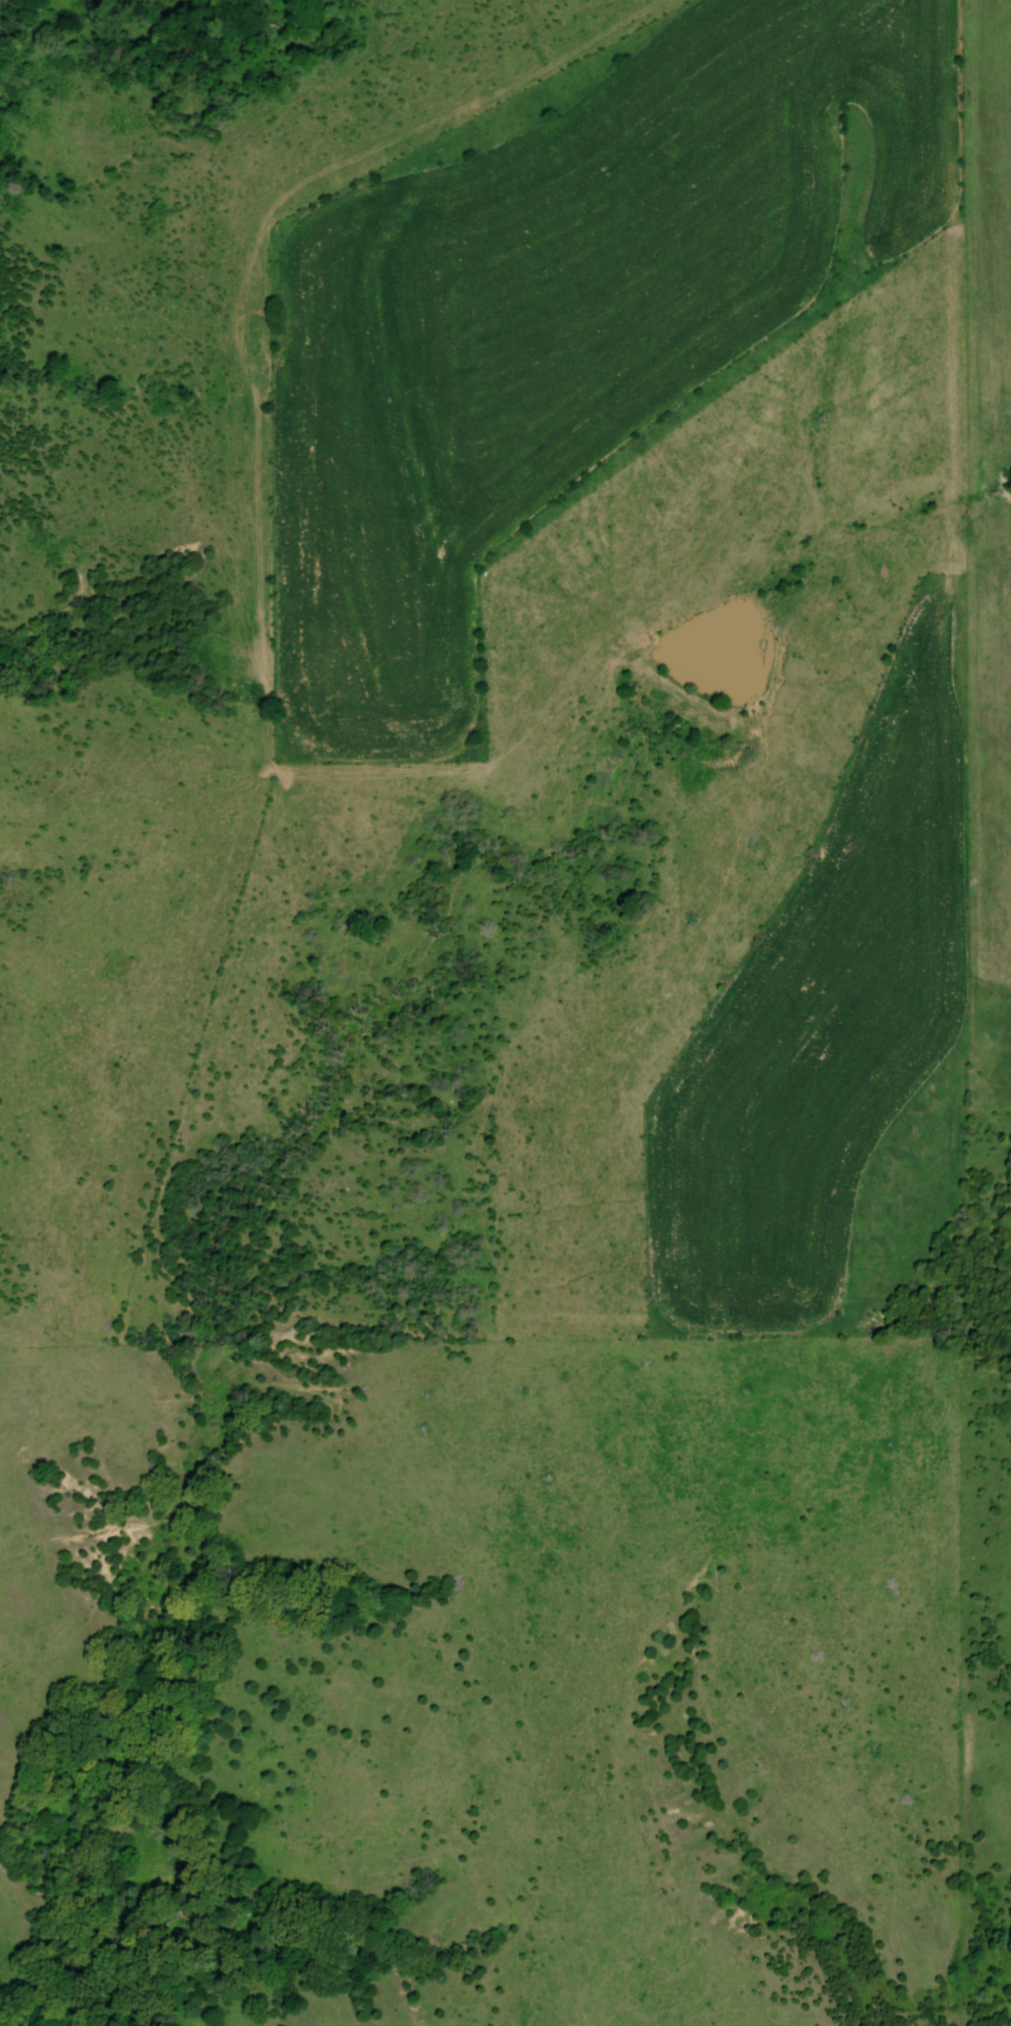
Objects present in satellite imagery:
crop: (559, 325)
crop: (819, 1028)

